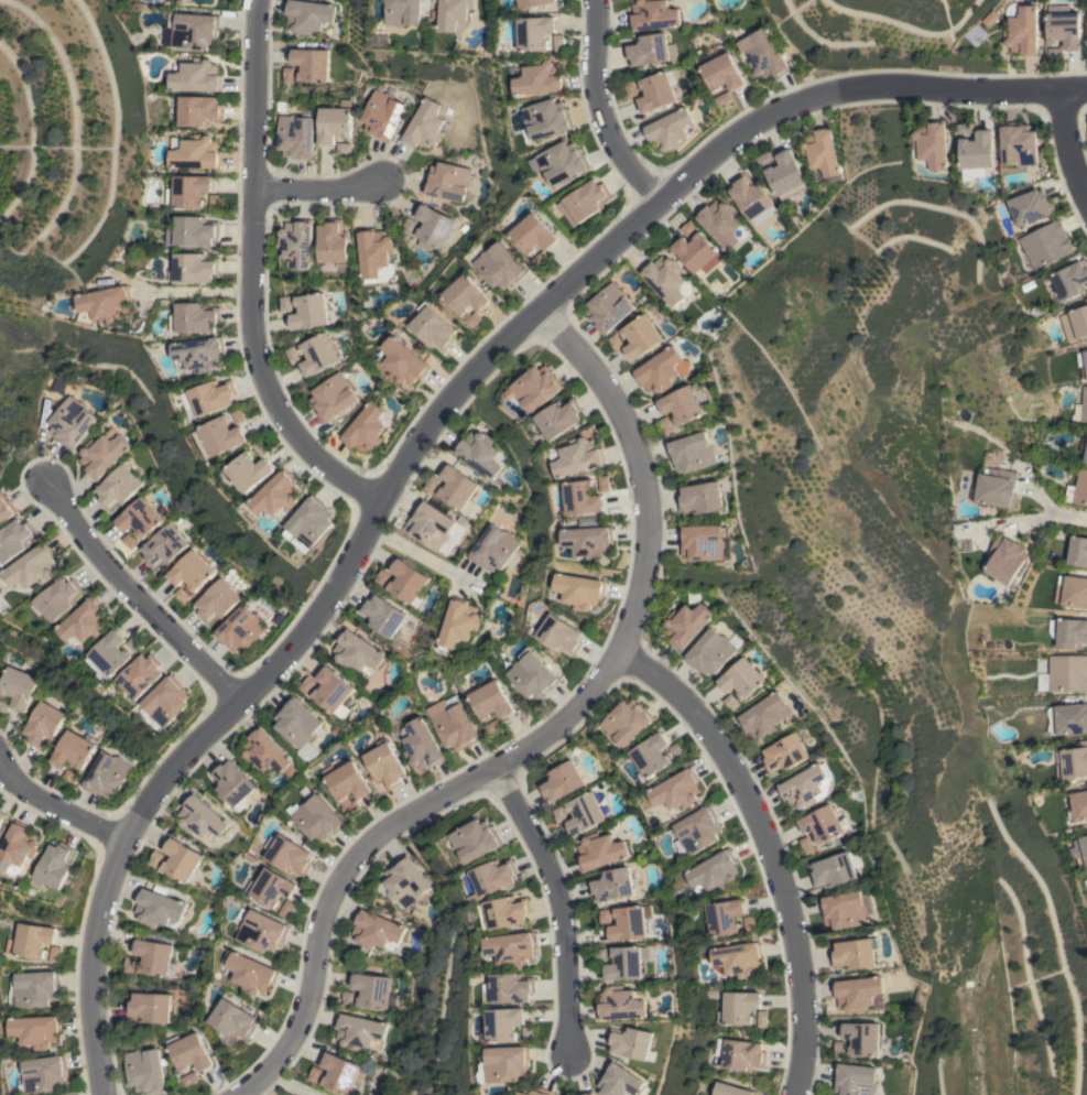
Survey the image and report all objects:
building: (533, 3)
building: (404, 12)
building: (455, 14)
building: (653, 14)
building: (307, 15)
building: (1063, 28)
building: (1020, 29)
building: (196, 31)
building: (535, 32)
building: (559, 42)
building: (650, 50)
building: (763, 54)
building: (312, 64)
building: (722, 73)
building: (289, 75)
building: (196, 76)
building: (541, 78)
building: (631, 89)
building: (657, 90)
building: (722, 98)
road: (597, 108)
building: (199, 110)
building: (382, 115)
building: (546, 119)
building: (335, 122)
building: (425, 126)
building: (668, 130)
building: (961, 130)
building: (296, 137)
building: (1018, 143)
building: (931, 145)
road: (1066, 147)
building: (820, 151)
building: (195, 152)
building: (976, 153)
building: (765, 159)
building: (561, 161)
building: (785, 173)
building: (447, 181)
road: (315, 189)
building: (192, 191)
building: (752, 198)
building: (213, 199)
building: (585, 202)
building: (1031, 206)
building: (721, 224)
building: (407, 226)
building: (433, 228)
building: (688, 228)
building: (193, 231)
building: (533, 234)
building: (333, 241)
building: (297, 242)
building: (1046, 245)
building: (698, 252)
building: (376, 254)
building: (540, 259)
building: (500, 267)
building: (194, 268)
road: (249, 274)
building: (1070, 279)
building: (666, 280)
road: (192, 292)
building: (465, 295)
building: (1086, 300)
building: (111, 303)
building: (285, 304)
building: (608, 307)
building: (309, 312)
building: (195, 317)
building: (474, 319)
building: (1075, 323)
building: (433, 327)
building: (640, 337)
building: (199, 354)
building: (292, 355)
building: (318, 355)
building: (403, 361)
building: (1083, 362)
building: (662, 370)
building: (535, 387)
building: (333, 397)
building: (210, 398)
building: (685, 403)
building: (1083, 405)
building: (238, 416)
building: (559, 418)
road: (428, 421)
building: (73, 422)
building: (666, 425)
building: (367, 427)
building: (219, 436)
building: (261, 447)
building: (1084, 447)
building: (480, 453)
building: (692, 453)
building: (102, 454)
building: (578, 457)
building: (249, 471)
building: (432, 484)
building: (606, 484)
building: (118, 487)
building: (457, 487)
building: (1078, 488)
building: (996, 489)
building: (278, 495)
building: (583, 497)
building: (700, 498)
building: (7, 508)
road: (1055, 511)
building: (140, 518)
building: (311, 522)
building: (434, 525)
building: (15, 541)
building: (129, 541)
building: (589, 541)
building: (703, 542)
building: (163, 546)
building: (494, 549)
building: (1077, 551)
road: (415, 553)
building: (1006, 560)
building: (32, 570)
building: (191, 571)
building: (381, 577)
building: (407, 582)
building: (580, 590)
building: (1075, 590)
building: (59, 598)
road: (137, 599)
building: (217, 600)
building: (381, 614)
building: (85, 622)
building: (459, 622)
building: (685, 625)
building: (240, 629)
building: (1070, 632)
building: (559, 635)
building: (135, 644)
building: (711, 651)
building: (358, 652)
building: (109, 657)
building: (1067, 673)
building: (141, 675)
building: (532, 675)
building: (742, 679)
building: (306, 684)
building: (19, 686)
building: (331, 690)
building: (491, 701)
building: (165, 704)
building: (763, 715)
building: (1067, 719)
building: (628, 720)
building: (454, 723)
building: (44, 724)
building: (297, 724)
building: (493, 726)
road: (545, 734)
building: (421, 745)
building: (74, 749)
building: (785, 751)
building: (268, 754)
building: (652, 757)
building: (1073, 761)
building: (385, 763)
building: (107, 773)
building: (68, 776)
building: (561, 781)
building: (233, 784)
building: (346, 784)
building: (1086, 785)
building: (806, 787)
building: (677, 790)
building: (1078, 806)
road: (56, 809)
building: (585, 813)
building: (2, 817)
building: (200, 817)
building: (317, 818)
building: (824, 824)
building: (697, 832)
building: (476, 841)
building: (805, 845)
building: (19, 848)
road: (769, 848)
building: (1080, 849)
building: (600, 850)
building: (287, 855)
building: (155, 858)
building: (182, 861)
building: (56, 866)
building: (835, 868)
building: (714, 872)
building: (494, 876)
building: (406, 881)
building: (611, 883)
building: (271, 887)
road: (561, 901)
building: (159, 907)
building: (286, 908)
building: (845, 909)
building: (504, 912)
building: (725, 917)
building: (629, 924)
building: (261, 931)
building: (376, 931)
building: (32, 940)
building: (512, 947)
building: (55, 954)
building: (854, 954)
building: (155, 957)
building: (736, 960)
building: (627, 963)
building: (130, 964)
building: (251, 973)
building: (509, 988)
building: (35, 989)
building: (372, 991)
building: (859, 993)
building: (348, 997)
building: (620, 1004)
building: (150, 1007)
building: (737, 1008)
building: (232, 1019)
building: (761, 1019)
building: (504, 1024)
building: (36, 1030)
building: (359, 1032)
building: (862, 1038)
building: (633, 1042)
building: (189, 1052)
building: (740, 1054)
building: (507, 1064)
building: (144, 1070)
building: (341, 1073)
building: (45, 1074)
building: (191, 1078)
building: (855, 1080)
building: (622, 1082)
road: (286, 1084)
building: (729, 1089)
building: (537, 1091)
building: (589, 1093)

